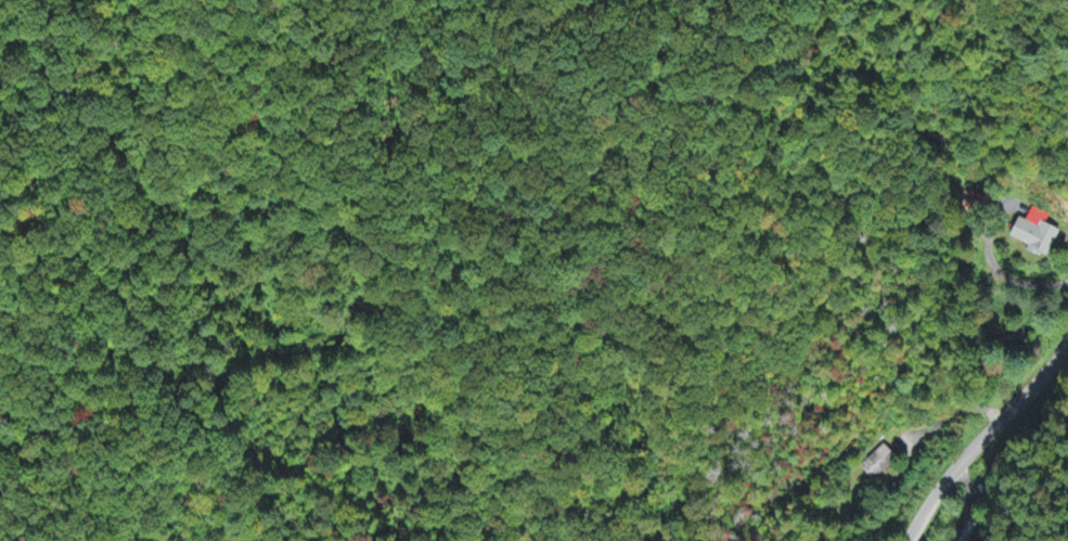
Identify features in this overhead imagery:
building: (1032, 234)
road: (982, 439)
building: (877, 463)

